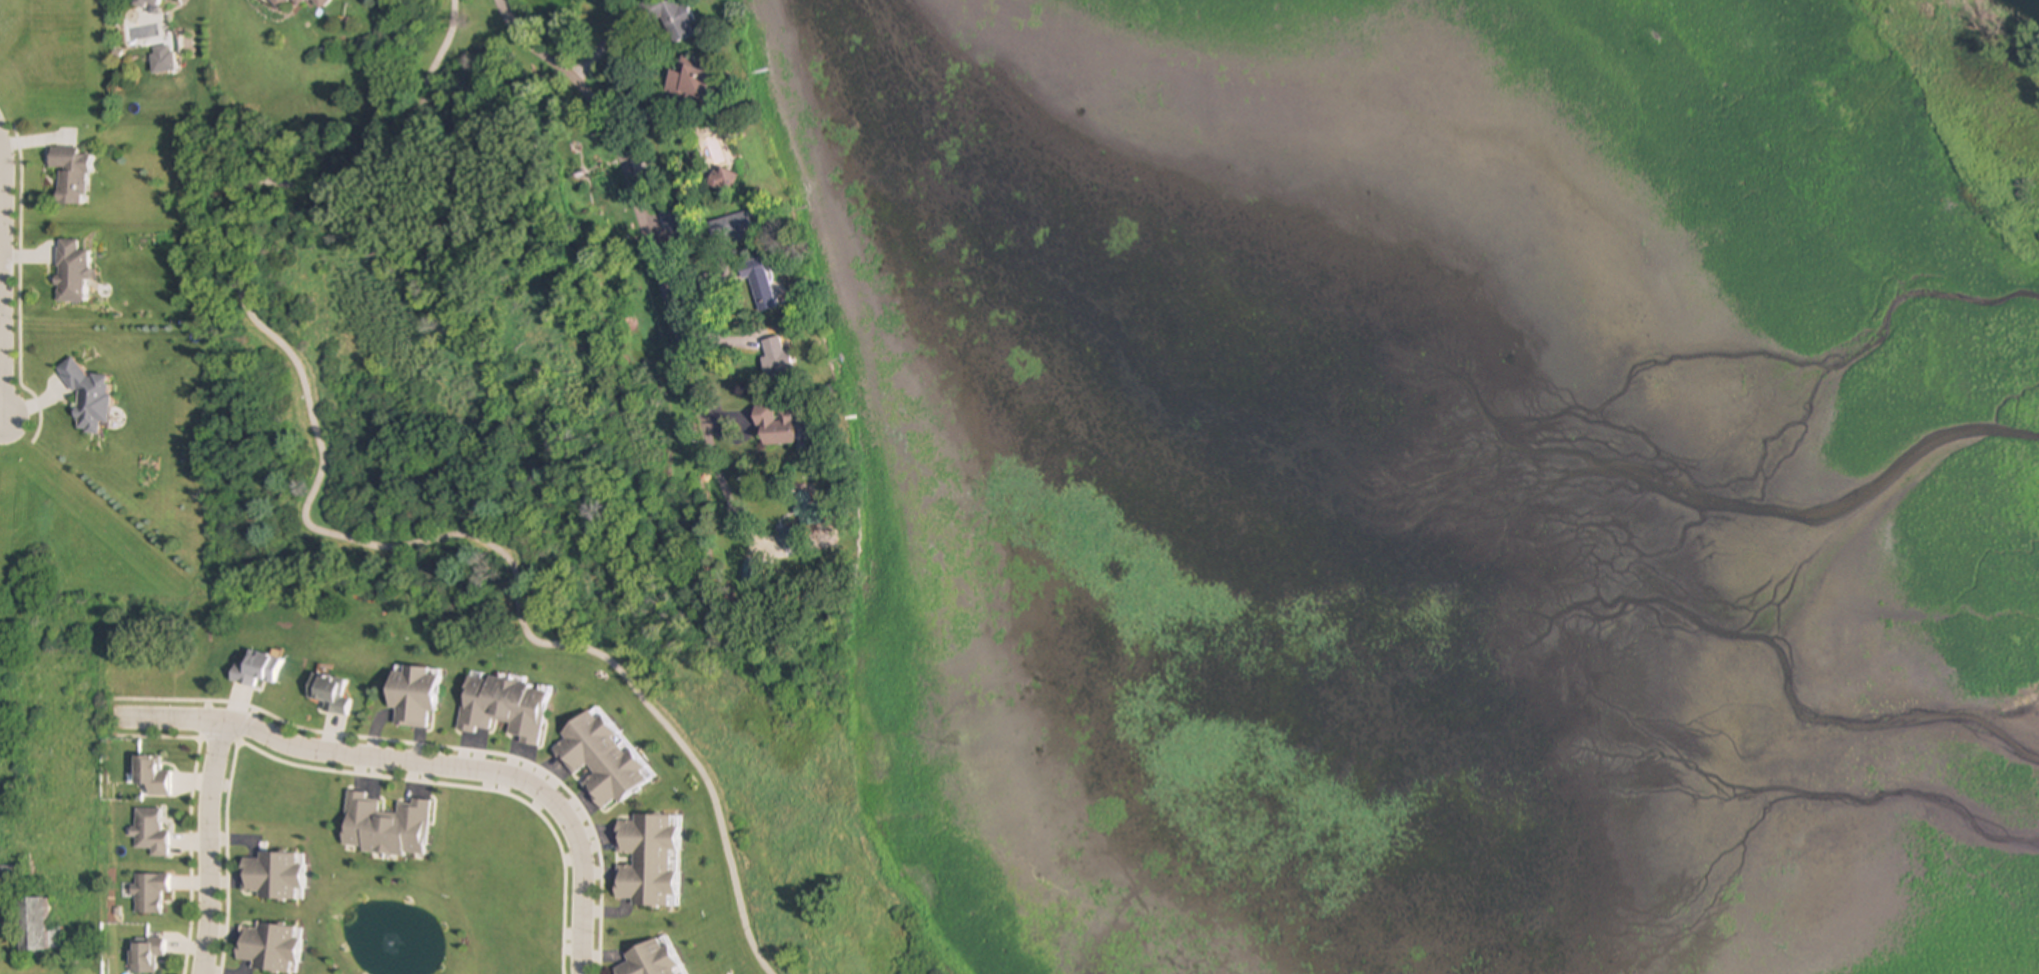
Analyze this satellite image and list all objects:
building: (296, 2)
building: (276, 3)
building: (318, 3)
building: (144, 4)
building: (672, 18)
building: (688, 79)
building: (68, 175)
building: (721, 180)
building: (732, 227)
road: (655, 253)
building: (70, 272)
building: (756, 283)
road: (3, 285)
road: (21, 286)
building: (774, 357)
building: (87, 397)
building: (773, 426)
park: (543, 484)
road: (317, 530)
building: (256, 669)
building: (329, 694)
building: (411, 696)
building: (502, 708)
road: (359, 730)
building: (599, 760)
road: (424, 764)
building: (150, 775)
road: (472, 784)
building: (383, 821)
building: (149, 832)
road: (210, 848)
road: (185, 852)
building: (646, 859)
building: (10, 873)
building: (271, 876)
building: (148, 892)
building: (32, 922)
building: (266, 947)
building: (144, 954)
building: (649, 959)
road: (212, 973)

